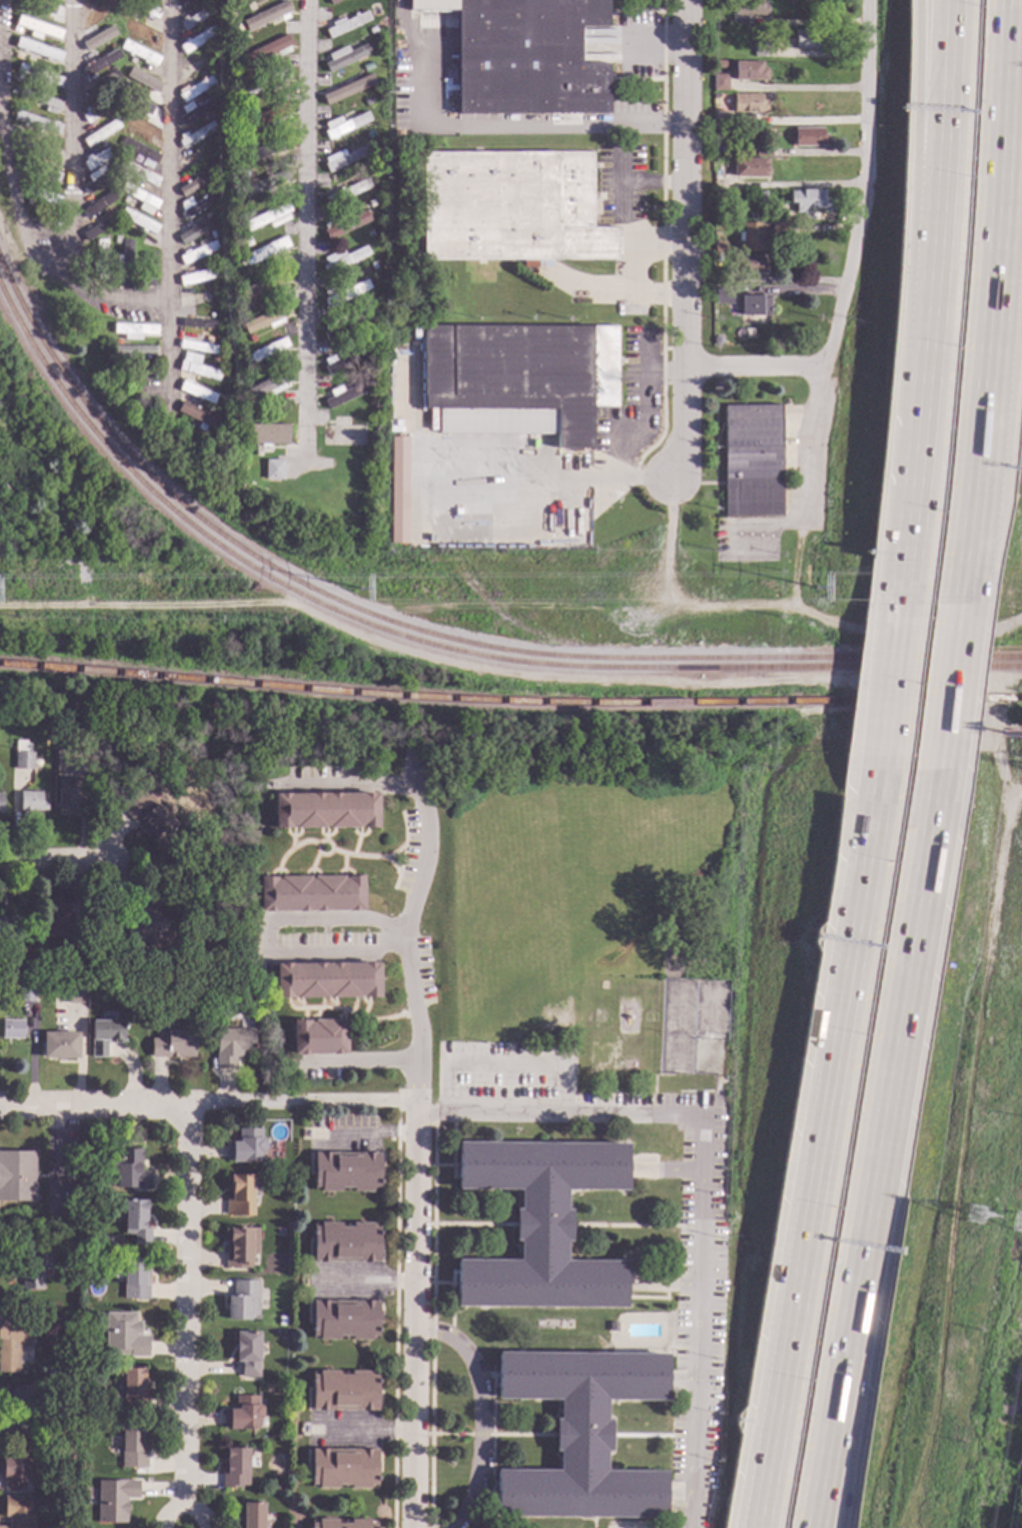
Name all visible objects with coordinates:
building: (111, 0)
building: (152, 0)
building: (243, 0)
building: (88, 1)
building: (186, 2)
building: (207, 2)
building: (331, 2)
building: (367, 2)
building: (791, 2)
building: (245, 5)
building: (39, 6)
building: (748, 8)
building: (125, 9)
building: (143, 11)
building: (101, 14)
building: (265, 16)
building: (114, 18)
building: (196, 18)
road: (1011, 18)
road: (1016, 18)
building: (207, 22)
building: (346, 24)
building: (38, 27)
building: (17, 31)
building: (372, 31)
building: (142, 33)
building: (130, 35)
building: (100, 36)
building: (244, 38)
building: (198, 39)
building: (809, 39)
building: (112, 46)
building: (211, 46)
building: (761, 46)
building: (38, 50)
building: (268, 50)
building: (139, 53)
building: (17, 56)
building: (345, 56)
building: (524, 56)
building: (131, 61)
building: (196, 62)
building: (100, 63)
building: (366, 67)
building: (112, 68)
building: (246, 71)
building: (749, 72)
building: (202, 74)
building: (37, 75)
building: (139, 77)
building: (719, 82)
building: (124, 83)
building: (266, 83)
building: (100, 84)
building: (197, 88)
building: (13, 91)
building: (216, 91)
building: (343, 93)
building: (714, 97)
building: (40, 100)
road: (940, 100)
building: (368, 101)
road: (913, 101)
building: (748, 103)
building: (143, 104)
building: (97, 109)
building: (195, 110)
building: (213, 113)
building: (111, 116)
building: (267, 118)
building: (718, 121)
building: (36, 123)
building: (344, 125)
building: (139, 126)
road: (549, 129)
building: (124, 130)
building: (100, 133)
building: (369, 134)
building: (196, 135)
building: (808, 137)
building: (243, 138)
road: (71, 140)
building: (210, 141)
building: (102, 144)
building: (33, 147)
building: (721, 150)
building: (737, 150)
building: (762, 150)
building: (268, 151)
building: (140, 152)
building: (99, 156)
building: (126, 156)
building: (198, 158)
building: (343, 158)
building: (111, 162)
building: (370, 167)
building: (745, 167)
building: (38, 171)
building: (139, 173)
building: (242, 173)
building: (121, 174)
building: (99, 177)
building: (268, 184)
building: (195, 185)
building: (110, 186)
building: (346, 192)
building: (42, 196)
building: (760, 196)
building: (140, 198)
building: (125, 200)
building: (807, 200)
building: (28, 202)
road: (170, 202)
building: (100, 203)
building: (370, 203)
building: (247, 204)
building: (195, 205)
building: (511, 208)
building: (105, 213)
building: (206, 215)
building: (753, 216)
building: (268, 218)
building: (138, 221)
building: (119, 224)
building: (344, 224)
building: (99, 227)
building: (198, 230)
building: (780, 230)
building: (369, 233)
building: (212, 234)
building: (751, 237)
building: (245, 239)
building: (116, 240)
road: (685, 243)
road: (304, 245)
building: (718, 248)
building: (91, 251)
building: (198, 251)
road: (35, 252)
building: (262, 252)
building: (215, 254)
building: (715, 258)
building: (342, 259)
building: (100, 260)
road: (849, 262)
building: (747, 264)
building: (123, 265)
building: (372, 265)
building: (149, 269)
road: (997, 270)
building: (200, 276)
building: (244, 276)
road: (927, 276)
building: (263, 284)
building: (343, 293)
building: (722, 296)
building: (196, 301)
building: (371, 301)
building: (364, 305)
building: (754, 306)
building: (266, 316)
building: (199, 325)
building: (342, 326)
building: (133, 330)
building: (367, 337)
building: (250, 338)
building: (716, 341)
building: (119, 342)
building: (198, 344)
building: (138, 351)
building: (264, 351)
building: (214, 360)
building: (344, 360)
road: (754, 369)
building: (197, 370)
building: (362, 374)
building: (519, 379)
building: (266, 386)
building: (196, 391)
building: (345, 395)
building: (224, 400)
road: (643, 408)
building: (252, 412)
building: (200, 415)
building: (226, 420)
building: (266, 434)
building: (750, 461)
building: (272, 470)
road: (578, 478)
road: (907, 478)
road: (641, 480)
building: (398, 490)
railway: (441, 544)
road: (666, 549)
road: (968, 554)
road: (797, 563)
power tower: (360, 592)
power tower: (816, 592)
road: (515, 606)
railway: (432, 637)
railway: (437, 647)
road: (884, 687)
road: (949, 688)
railway: (510, 702)
building: (22, 756)
building: (160, 756)
building: (143, 774)
road: (353, 786)
building: (68, 799)
building: (30, 802)
building: (0, 803)
building: (324, 810)
building: (148, 814)
road: (51, 861)
building: (310, 893)
building: (56, 921)
building: (143, 922)
building: (7, 927)
road: (265, 935)
road: (408, 943)
building: (72, 951)
building: (325, 980)
building: (25, 993)
building: (73, 995)
building: (212, 998)
building: (10, 1029)
building: (104, 1036)
building: (318, 1037)
building: (172, 1045)
building: (232, 1045)
building: (58, 1046)
road: (358, 1063)
road: (499, 1068)
road: (891, 1071)
road: (207, 1106)
road: (370, 1135)
building: (245, 1147)
road: (816, 1149)
road: (56, 1157)
building: (128, 1170)
building: (345, 1172)
building: (16, 1176)
road: (703, 1177)
building: (238, 1196)
power tower: (975, 1218)
building: (92, 1219)
building: (134, 1222)
building: (539, 1225)
power tower: (1021, 1228)
building: (90, 1237)
building: (344, 1243)
building: (240, 1247)
building: (33, 1270)
building: (134, 1280)
road: (363, 1282)
building: (242, 1301)
road: (185, 1307)
building: (92, 1313)
road: (414, 1316)
building: (343, 1320)
building: (281, 1321)
building: (611, 1326)
building: (123, 1335)
building: (11, 1343)
building: (247, 1353)
building: (132, 1389)
building: (343, 1391)
building: (275, 1394)
building: (21, 1412)
building: (242, 1413)
road: (480, 1414)
road: (368, 1432)
building: (579, 1435)
building: (132, 1447)
building: (270, 1448)
road: (829, 1450)
road: (846, 1450)
building: (69, 1462)
building: (13, 1468)
building: (234, 1468)
building: (342, 1468)
building: (60, 1486)
building: (276, 1489)
building: (114, 1499)
road: (183, 1507)
building: (18, 1511)
building: (51, 1514)
building: (87, 1514)
building: (252, 1515)
building: (341, 1524)

